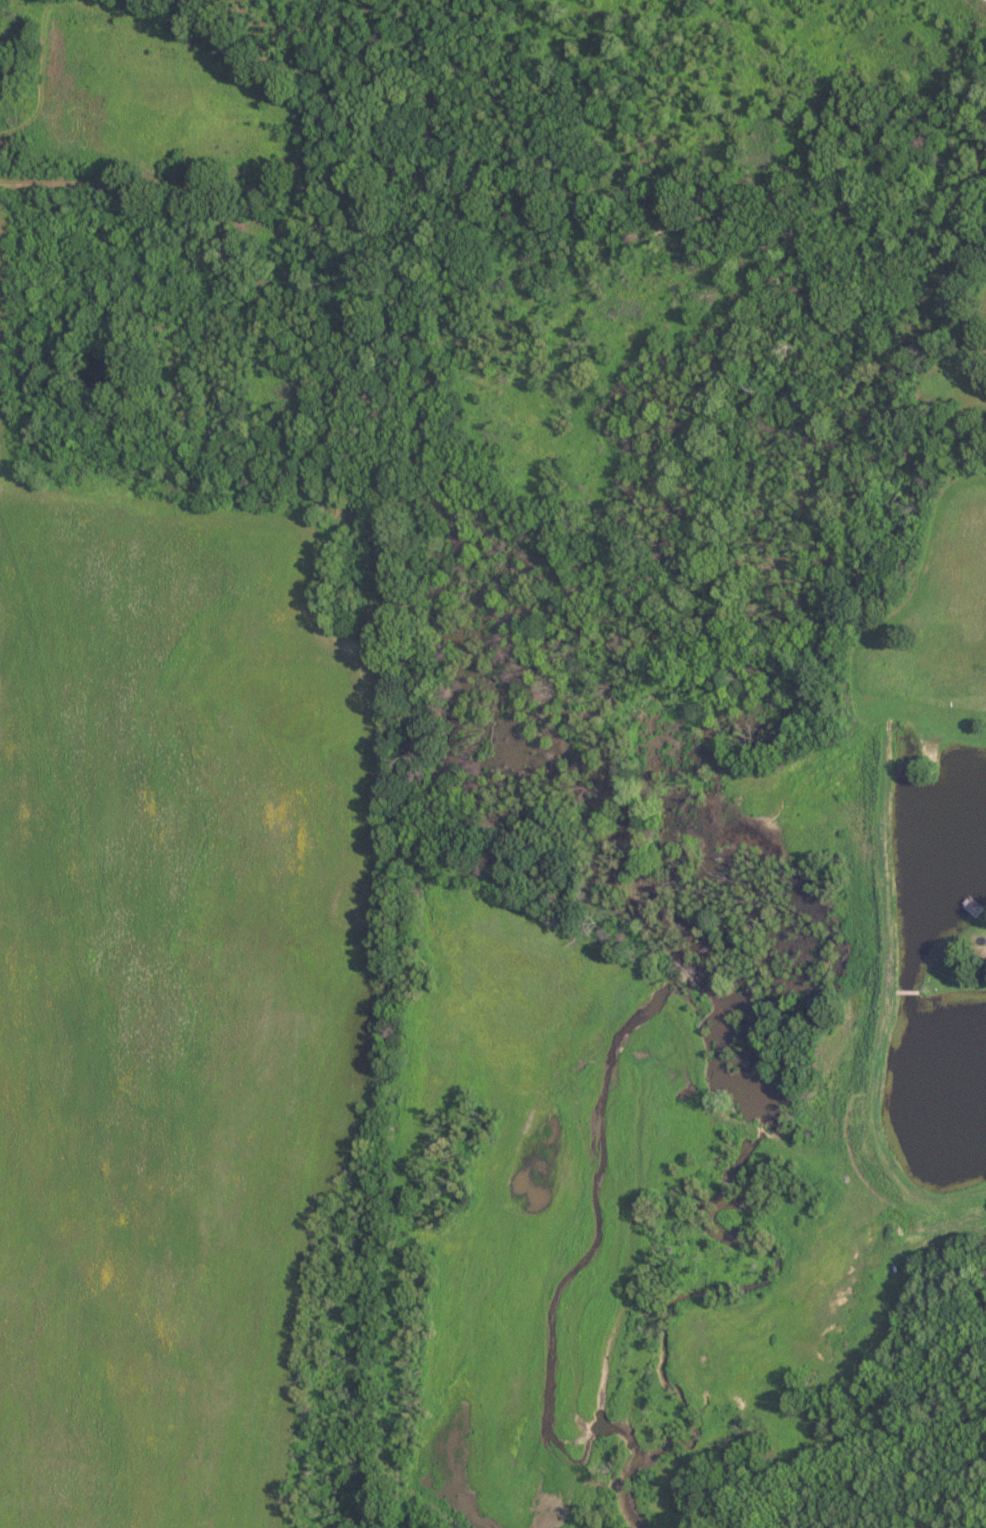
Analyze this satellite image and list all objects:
road: (961, 339)
crop: (175, 987)

